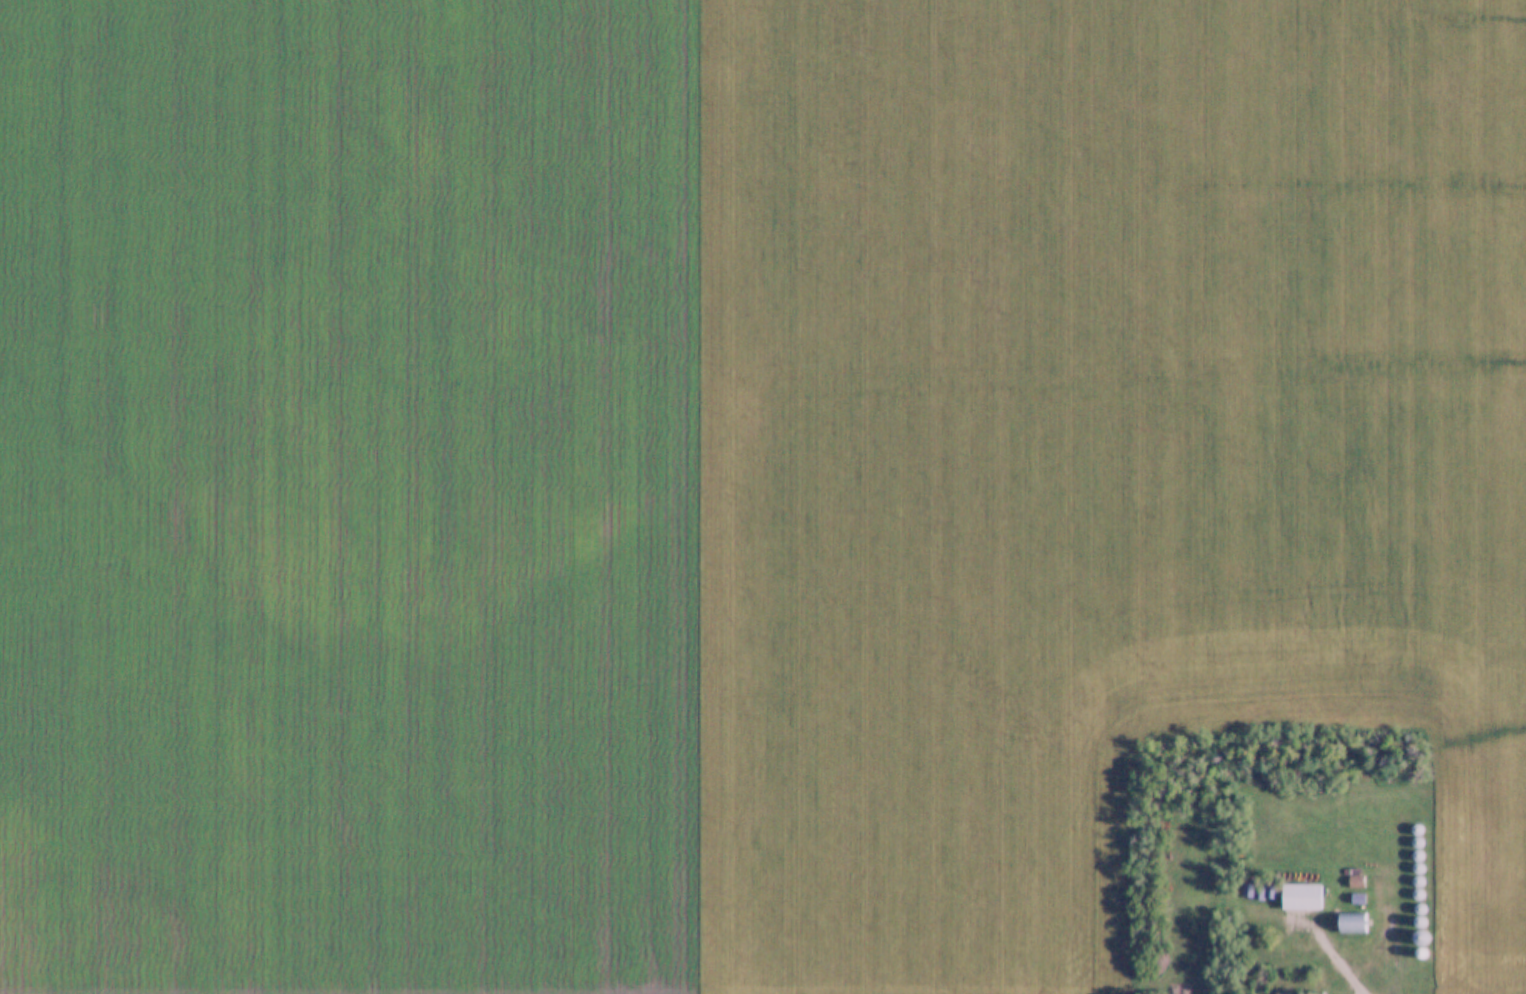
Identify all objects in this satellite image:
building: (1302, 894)
building: (1353, 919)

